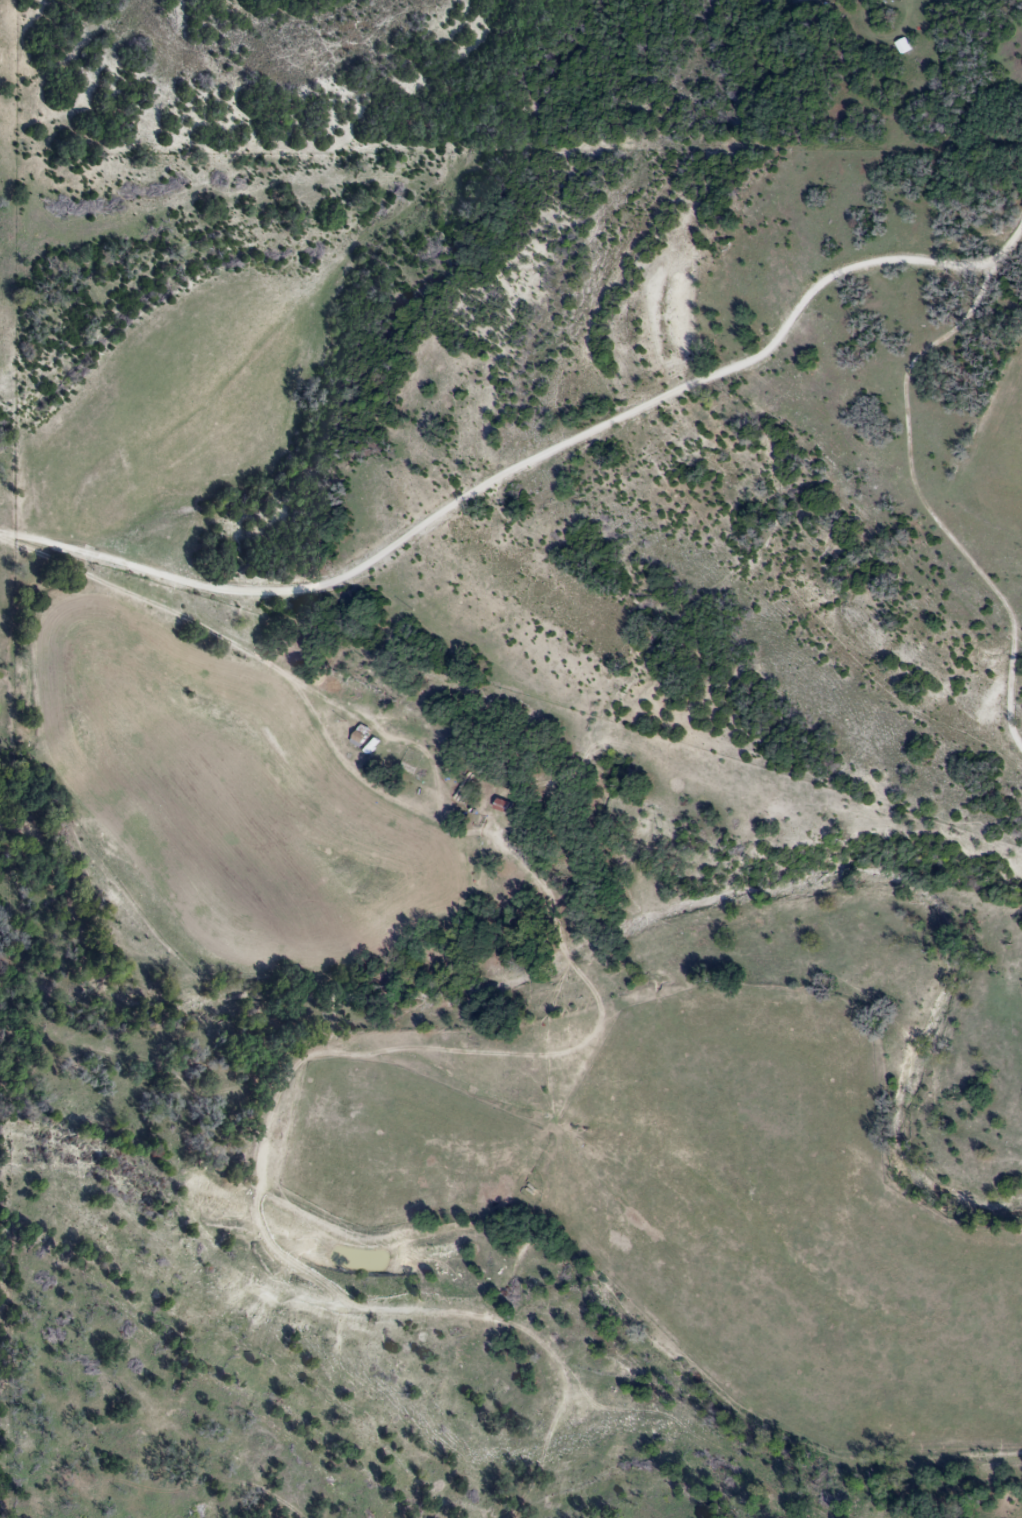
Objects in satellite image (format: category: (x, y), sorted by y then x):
road: (662, 699)
building: (360, 735)
building: (500, 806)

